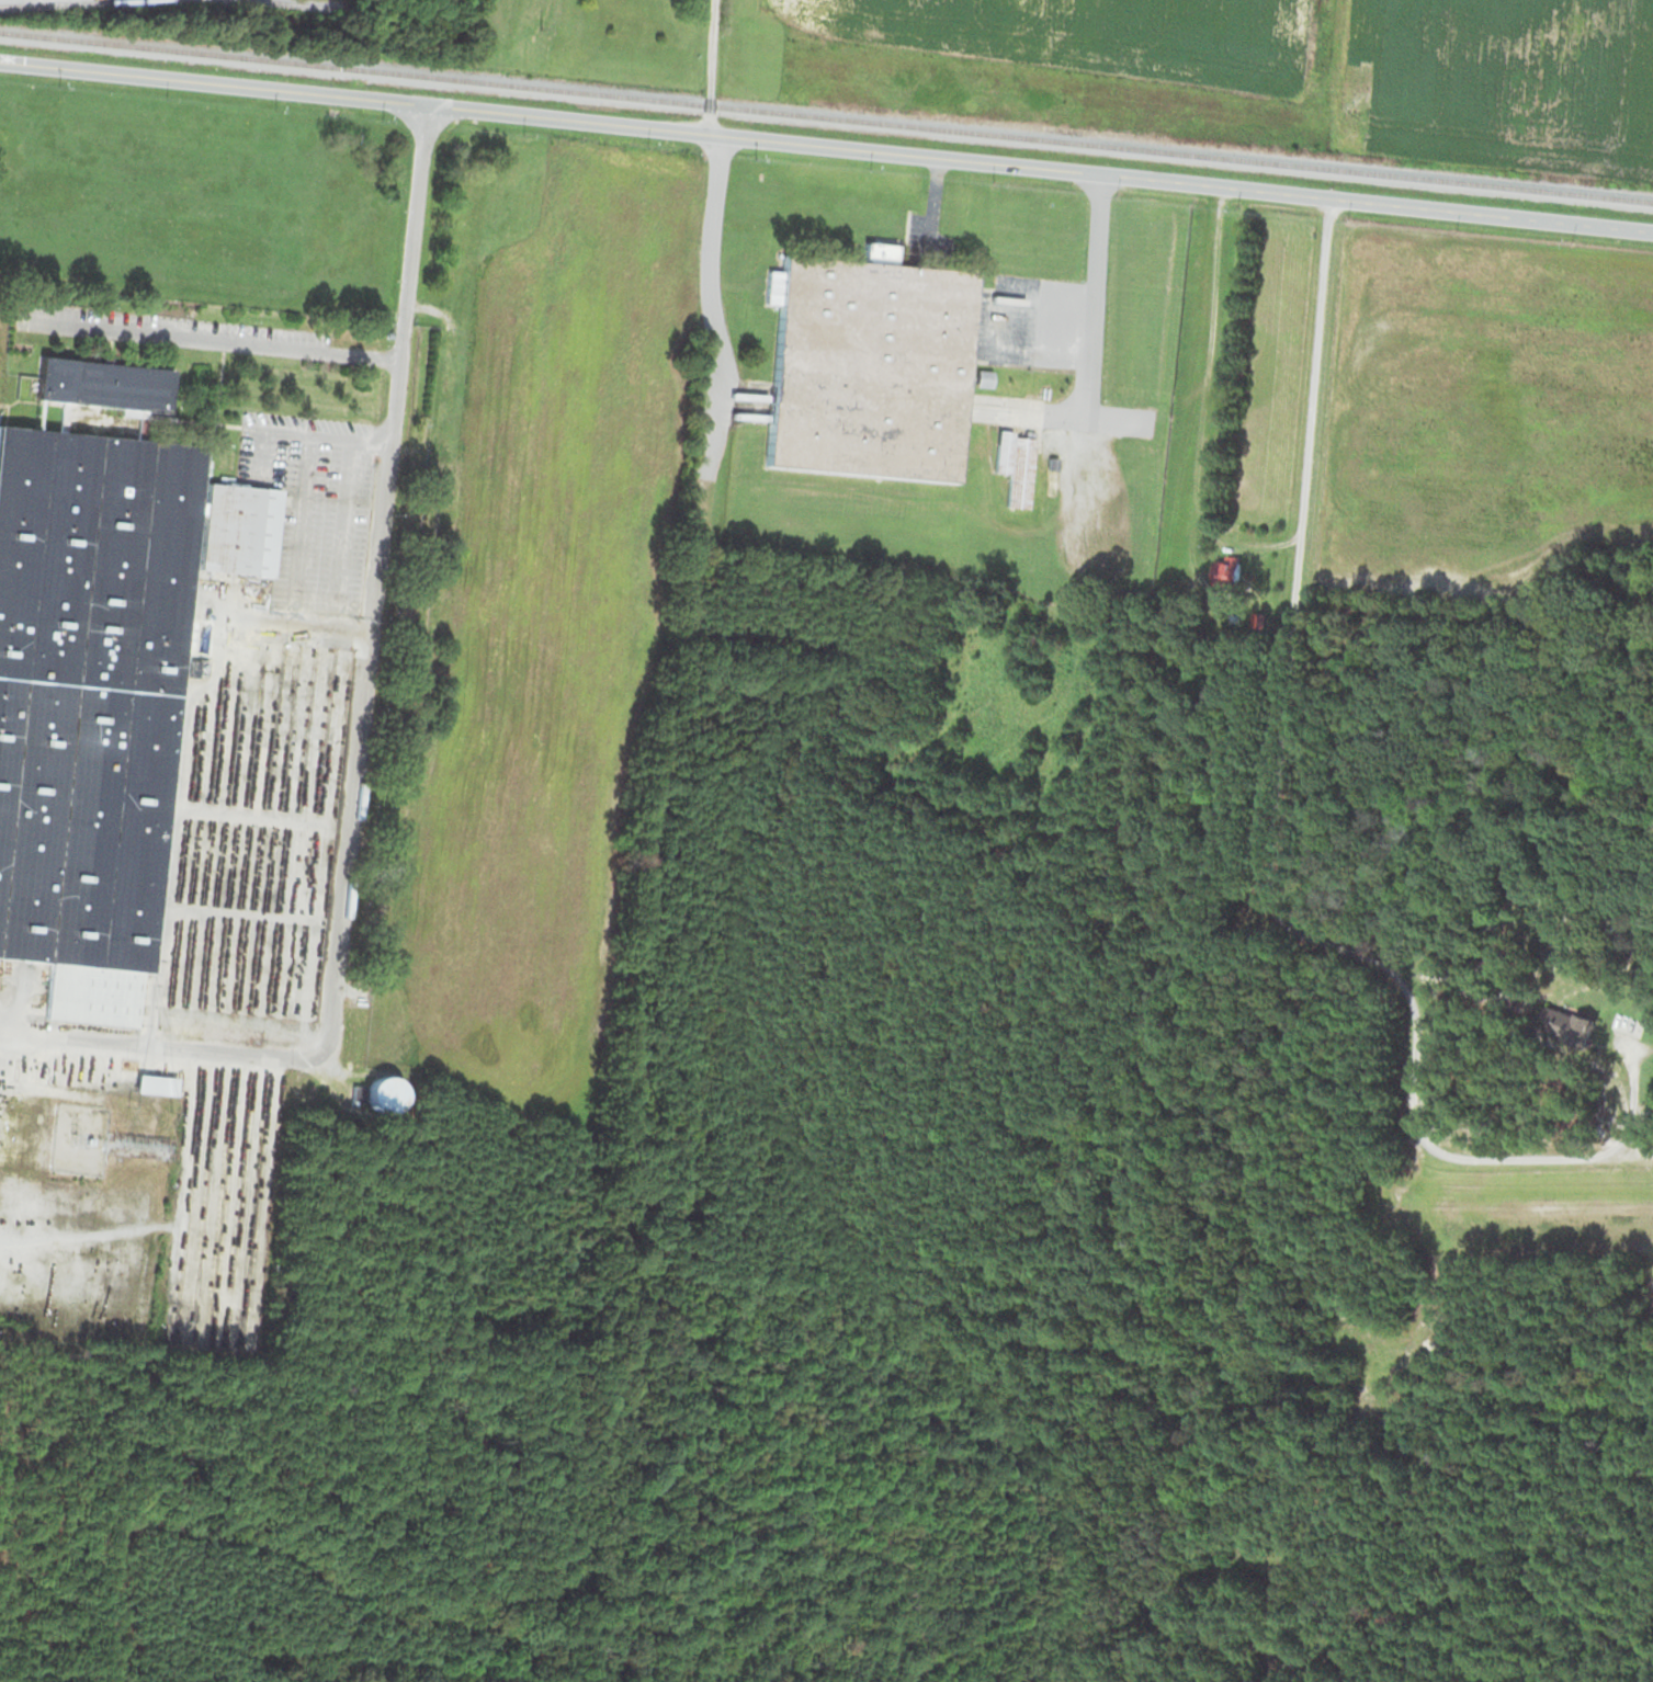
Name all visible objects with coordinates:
railway: (46, 1)
railway: (304, 3)
road: (707, 66)
railway: (826, 116)
road: (826, 145)
road: (711, 295)
road: (212, 338)
building: (865, 366)
building: (1015, 466)
building: (1223, 569)
building: (97, 663)
road: (359, 737)
road: (1267, 827)
building: (378, 1092)
road: (1630, 1103)

